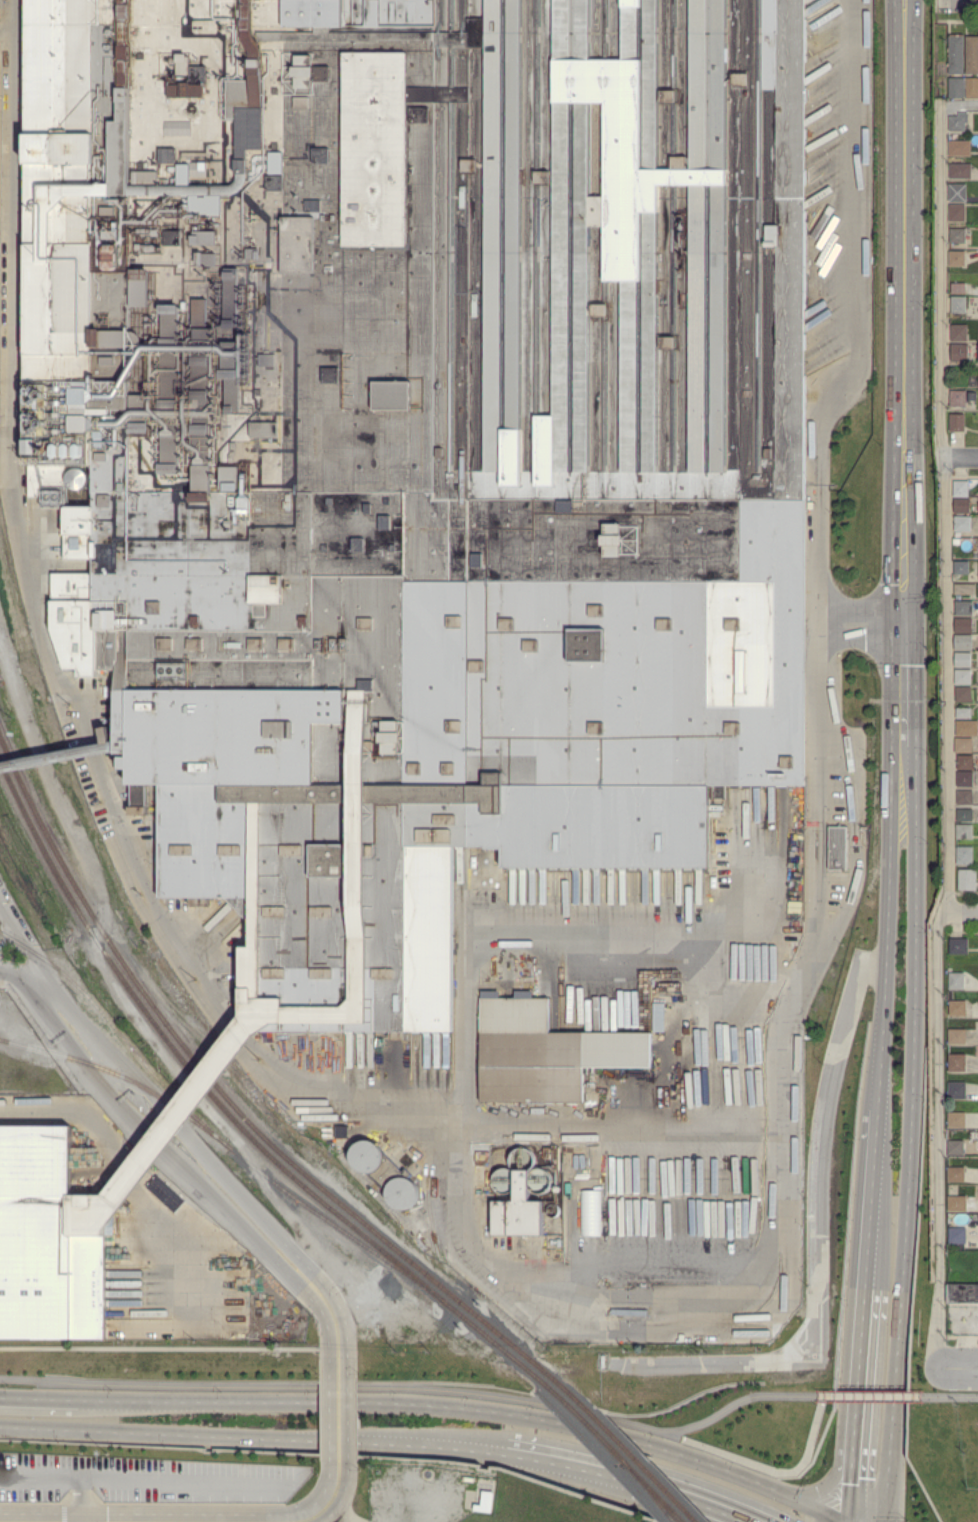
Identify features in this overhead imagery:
road: (960, 0)
building: (957, 54)
building: (972, 55)
building: (928, 65)
building: (957, 88)
building: (972, 88)
building: (923, 95)
road: (960, 103)
building: (957, 124)
building: (960, 148)
building: (960, 171)
building: (958, 192)
building: (957, 212)
building: (958, 235)
building: (958, 258)
building: (959, 288)
building: (959, 305)
road: (821, 307)
road: (902, 307)
building: (960, 332)
building: (960, 353)
building: (976, 353)
building: (959, 399)
building: (958, 422)
building: (421, 444)
road: (961, 458)
building: (961, 488)
building: (963, 505)
road: (944, 507)
building: (961, 522)
building: (959, 534)
building: (960, 566)
building: (966, 589)
building: (964, 608)
road: (860, 615)
traffic signals: (902, 615)
building: (963, 625)
building: (962, 641)
building: (963, 659)
building: (961, 676)
road: (902, 680)
road: (826, 682)
building: (963, 694)
building: (964, 712)
building: (967, 728)
building: (964, 745)
road: (105, 750)
road: (902, 759)
building: (966, 762)
building: (966, 779)
building: (966, 797)
building: (965, 815)
building: (965, 831)
building: (837, 847)
building: (966, 854)
building: (968, 880)
parking lot: (4, 883)
road: (830, 911)
road: (957, 911)
railway: (98, 920)
railway: (95, 933)
road: (526, 934)
road: (19, 935)
road: (882, 938)
building: (956, 945)
parking lot: (1, 965)
road: (20, 967)
building: (957, 981)
building: (958, 1007)
building: (658, 1016)
road: (233, 1036)
building: (958, 1036)
railway: (135, 1052)
building: (957, 1063)
building: (532, 1067)
railway: (123, 1075)
building: (958, 1091)
building: (958, 1119)
road: (599, 1129)
road: (938, 1139)
road: (870, 1146)
road: (907, 1146)
building: (956, 1148)
road: (200, 1157)
road: (124, 1162)
building: (385, 1174)
building: (957, 1174)
road: (106, 1193)
parking lot: (668, 1195)
building: (958, 1203)
building: (519, 1211)
building: (590, 1211)
building: (954, 1218)
road: (865, 1235)
building: (957, 1235)
railway: (385, 1236)
railway: (357, 1237)
road: (818, 1237)
building: (49, 1241)
railway: (377, 1243)
building: (962, 1294)
road: (860, 1325)
road: (958, 1366)
road: (414, 1387)
railway: (504, 1388)
railway: (491, 1389)
road: (856, 1389)
road: (869, 1393)
road: (949, 1393)
road: (429, 1407)
road: (339, 1420)
road: (159, 1432)
road: (410, 1443)
railway: (622, 1446)
railway: (612, 1451)
road: (531, 1454)
road: (848, 1465)
road: (839, 1468)
railway: (584, 1471)
railway: (571, 1472)
road: (38, 1473)
road: (160, 1475)
parking lot: (141, 1480)
road: (652, 1486)
railway: (647, 1491)
traffic signals: (808, 1491)
road: (331, 1507)
traffic signals: (841, 1519)
road: (840, 1520)
road: (844, 1520)
road: (15, 1521)

